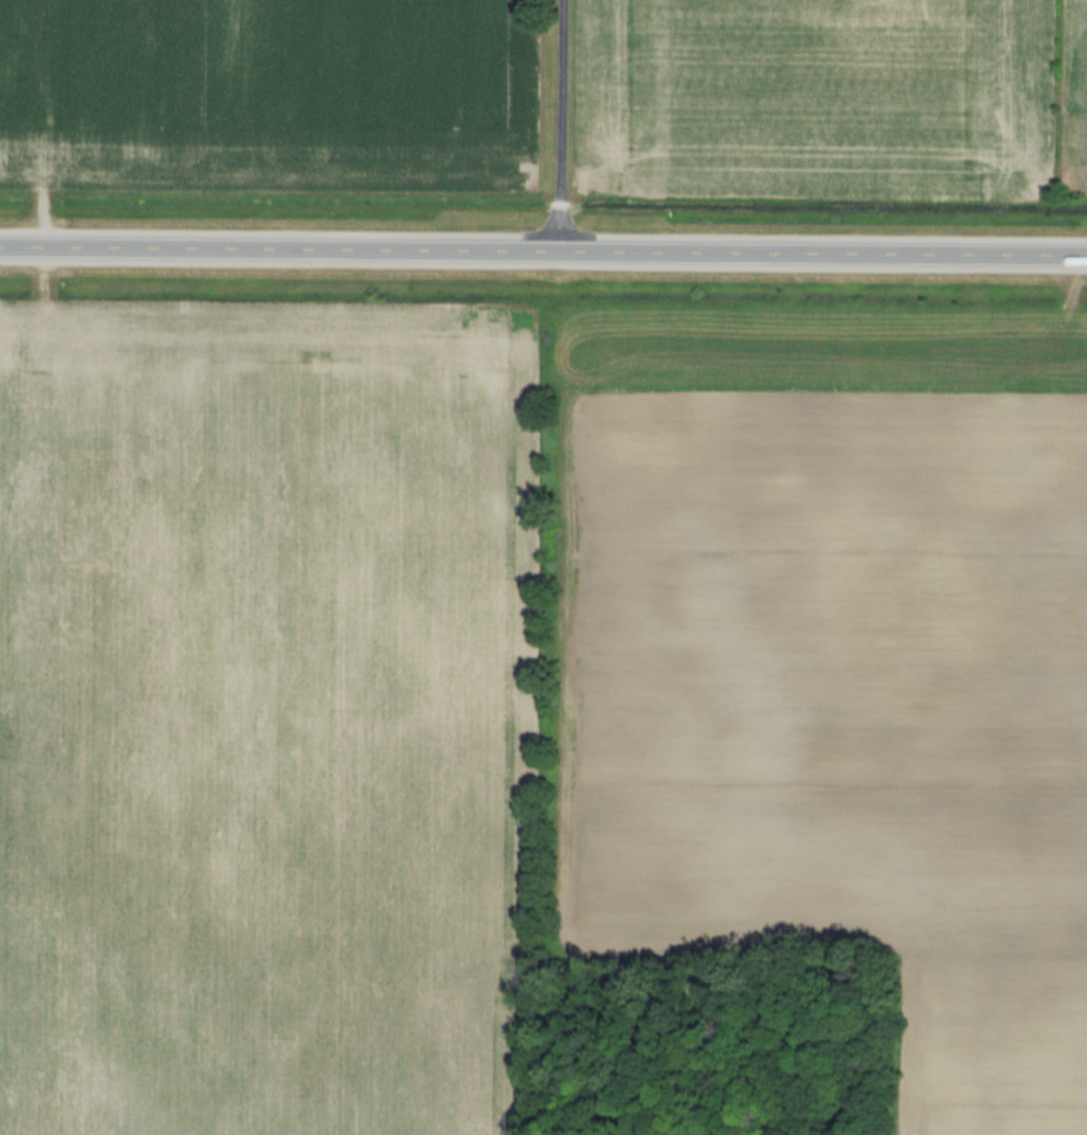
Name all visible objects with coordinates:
road: (555, 125)
road: (542, 249)

